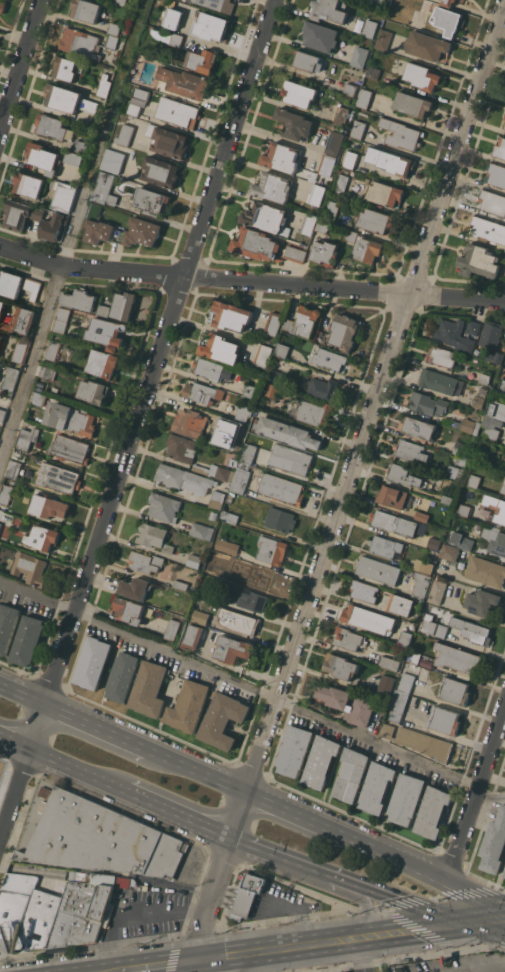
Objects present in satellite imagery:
building: (120, 2)
building: (448, 2)
building: (378, 3)
building: (218, 4)
building: (2, 6)
building: (85, 10)
building: (330, 10)
building: (173, 18)
building: (448, 20)
building: (212, 26)
building: (113, 28)
building: (370, 28)
building: (321, 36)
building: (384, 39)
building: (176, 40)
building: (111, 42)
building: (80, 43)
building: (427, 45)
building: (360, 57)
building: (202, 60)
building: (309, 61)
road: (20, 66)
building: (66, 67)
building: (353, 71)
building: (373, 72)
building: (422, 76)
building: (185, 82)
building: (105, 85)
building: (350, 89)
building: (299, 93)
building: (62, 97)
building: (364, 98)
building: (88, 104)
building: (413, 104)
building: (134, 109)
building: (177, 111)
building: (341, 116)
building: (504, 120)
building: (294, 123)
building: (51, 127)
building: (358, 129)
building: (400, 134)
building: (125, 135)
building: (168, 141)
building: (334, 143)
building: (81, 146)
building: (500, 148)
building: (281, 157)
building: (44, 158)
building: (73, 159)
building: (112, 160)
building: (350, 160)
building: (390, 161)
building: (326, 165)
building: (161, 171)
building: (495, 174)
building: (29, 184)
building: (340, 184)
building: (272, 187)
building: (105, 189)
building: (384, 193)
building: (316, 195)
building: (65, 196)
building: (151, 202)
building: (492, 202)
building: (331, 212)
building: (21, 214)
building: (267, 218)
building: (376, 221)
building: (309, 224)
building: (97, 225)
building: (53, 226)
building: (322, 226)
building: (488, 230)
road: (73, 231)
building: (142, 231)
building: (351, 236)
building: (256, 245)
building: (368, 249)
building: (324, 252)
building: (295, 254)
building: (479, 261)
building: (10, 283)
road: (251, 283)
building: (33, 288)
building: (80, 299)
building: (124, 305)
building: (1, 308)
building: (103, 310)
building: (232, 315)
building: (22, 320)
building: (61, 320)
building: (305, 322)
building: (274, 323)
building: (473, 327)
building: (344, 331)
building: (108, 333)
building: (491, 334)
building: (454, 335)
building: (0, 337)
building: (221, 348)
building: (282, 349)
building: (20, 350)
building: (53, 350)
building: (263, 355)
building: (441, 356)
building: (495, 356)
building: (330, 359)
building: (103, 363)
building: (209, 368)
building: (0, 371)
building: (47, 372)
building: (228, 372)
building: (276, 376)
building: (10, 379)
building: (484, 379)
building: (438, 381)
building: (502, 385)
building: (324, 389)
building: (272, 390)
building: (94, 391)
building: (250, 391)
building: (203, 392)
building: (37, 398)
building: (478, 401)
building: (429, 404)
building: (499, 411)
building: (244, 412)
building: (315, 413)
building: (2, 414)
building: (71, 418)
road: (138, 422)
building: (192, 422)
building: (468, 425)
building: (417, 427)
building: (492, 427)
building: (236, 429)
building: (289, 433)
building: (26, 438)
building: (71, 448)
building: (182, 448)
building: (459, 448)
building: (409, 450)
building: (249, 453)
road: (357, 458)
building: (292, 459)
building: (14, 469)
building: (216, 471)
building: (452, 471)
building: (403, 475)
building: (59, 477)
building: (241, 477)
building: (183, 478)
building: (472, 481)
building: (503, 487)
building: (282, 488)
building: (6, 493)
building: (231, 495)
building: (392, 496)
building: (216, 499)
building: (447, 499)
building: (49, 506)
building: (164, 507)
building: (464, 510)
building: (500, 510)
building: (213, 515)
building: (421, 516)
building: (230, 517)
building: (5, 518)
building: (280, 519)
building: (393, 522)
building: (202, 530)
building: (152, 534)
building: (42, 537)
building: (494, 539)
building: (434, 543)
building: (465, 543)
building: (227, 546)
building: (385, 546)
building: (168, 548)
building: (272, 550)
building: (449, 552)
building: (146, 561)
building: (195, 561)
building: (218, 564)
building: (424, 566)
building: (30, 568)
building: (378, 570)
building: (485, 571)
building: (233, 578)
building: (261, 579)
road: (371, 580)
building: (421, 584)
building: (181, 585)
building: (135, 588)
building: (364, 591)
building: (437, 592)
building: (206, 595)
building: (244, 595)
building: (481, 602)
building: (401, 604)
building: (128, 610)
building: (200, 617)
building: (368, 619)
building: (239, 621)
building: (7, 625)
building: (433, 627)
building: (172, 629)
building: (472, 630)
building: (193, 636)
building: (406, 636)
building: (349, 639)
building: (27, 640)
building: (233, 649)
building: (413, 657)
building: (457, 660)
building: (92, 662)
building: (389, 663)
building: (340, 666)
building: (122, 676)
building: (406, 682)
building: (386, 684)
building: (149, 689)
road: (253, 689)
building: (454, 691)
road: (23, 692)
building: (347, 704)
building: (397, 704)
building: (188, 706)
building: (223, 719)
building: (444, 720)
road: (98, 726)
building: (419, 741)
road: (15, 743)
building: (294, 750)
building: (321, 761)
power substation: (0, 765)
road: (76, 770)
road: (199, 770)
building: (351, 774)
building: (376, 787)
road: (477, 797)
building: (406, 799)
building: (433, 812)
road: (293, 813)
road: (177, 814)
building: (100, 838)
building: (494, 843)
road: (281, 856)
road: (392, 857)
building: (504, 875)
building: (504, 876)
road: (107, 880)
building: (247, 895)
road: (469, 899)
road: (363, 902)
road: (408, 903)
building: (14, 907)
building: (80, 913)
road: (135, 914)
road: (497, 915)
traffic signals: (490, 917)
road: (497, 917)
building: (39, 920)
road: (497, 920)
road: (423, 926)
road: (200, 937)
road: (289, 947)
road: (361, 954)
road: (206, 960)
road: (221, 965)
road: (155, 966)
road: (482, 968)
road: (140, 970)

